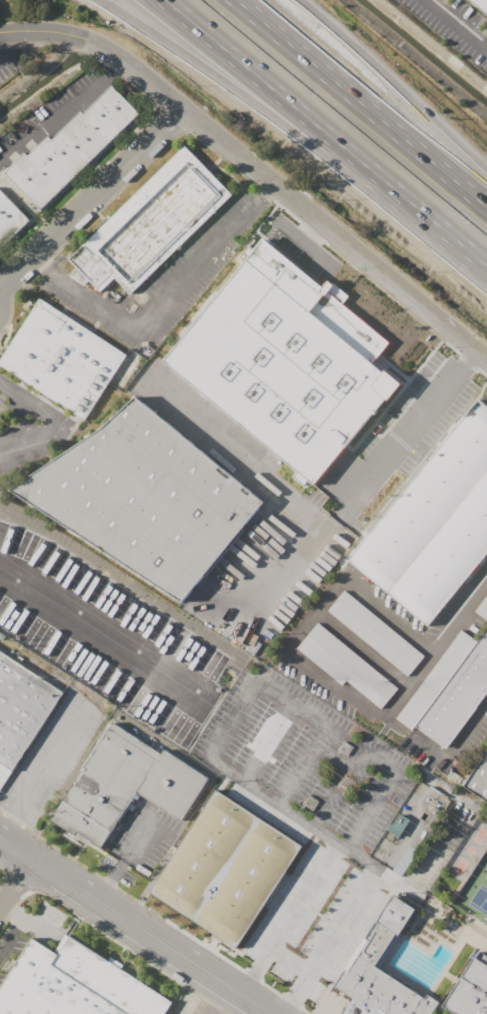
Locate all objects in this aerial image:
building: (481, 4)
street lamp: (77, 9)
road: (456, 24)
parking lot: (453, 27)
road: (66, 33)
road: (4, 52)
street lamp: (163, 66)
road: (116, 68)
road: (388, 79)
road: (362, 103)
road: (53, 117)
road: (141, 126)
road: (324, 133)
road: (292, 139)
building: (72, 145)
road: (213, 161)
road: (228, 164)
road: (481, 168)
road: (226, 172)
road: (268, 188)
road: (91, 198)
street lamp: (338, 204)
road: (306, 209)
building: (10, 218)
building: (151, 223)
road: (309, 229)
road: (290, 231)
road: (317, 253)
road: (36, 265)
street lamp: (430, 271)
road: (165, 302)
road: (471, 356)
building: (69, 358)
building: (285, 362)
road: (393, 367)
road: (389, 373)
road: (393, 395)
road: (26, 398)
road: (461, 414)
road: (395, 437)
road: (34, 441)
road: (243, 452)
building: (146, 500)
road: (341, 514)
building: (434, 524)
road: (281, 542)
road: (485, 555)
building: (484, 607)
road: (462, 615)
road: (100, 628)
building: (376, 634)
road: (288, 645)
building: (345, 666)
road: (214, 671)
building: (450, 691)
road: (85, 703)
building: (21, 706)
road: (325, 738)
road: (267, 743)
power tower: (349, 750)
road: (451, 750)
road: (301, 770)
road: (225, 771)
building: (479, 782)
power tower: (345, 783)
building: (126, 784)
road: (277, 804)
power tower: (314, 804)
road: (323, 811)
road: (1, 815)
road: (15, 834)
road: (138, 840)
road: (427, 854)
road: (359, 857)
road: (48, 869)
building: (229, 871)
road: (109, 882)
road: (17, 883)
park: (475, 892)
road: (125, 894)
road: (304, 895)
road: (13, 911)
road: (343, 921)
road: (42, 927)
road: (11, 935)
road: (182, 957)
road: (290, 960)
road: (255, 971)
building: (382, 972)
building: (74, 984)
building: (470, 990)
road: (297, 993)
road: (281, 994)
parking lot: (442, 1011)

